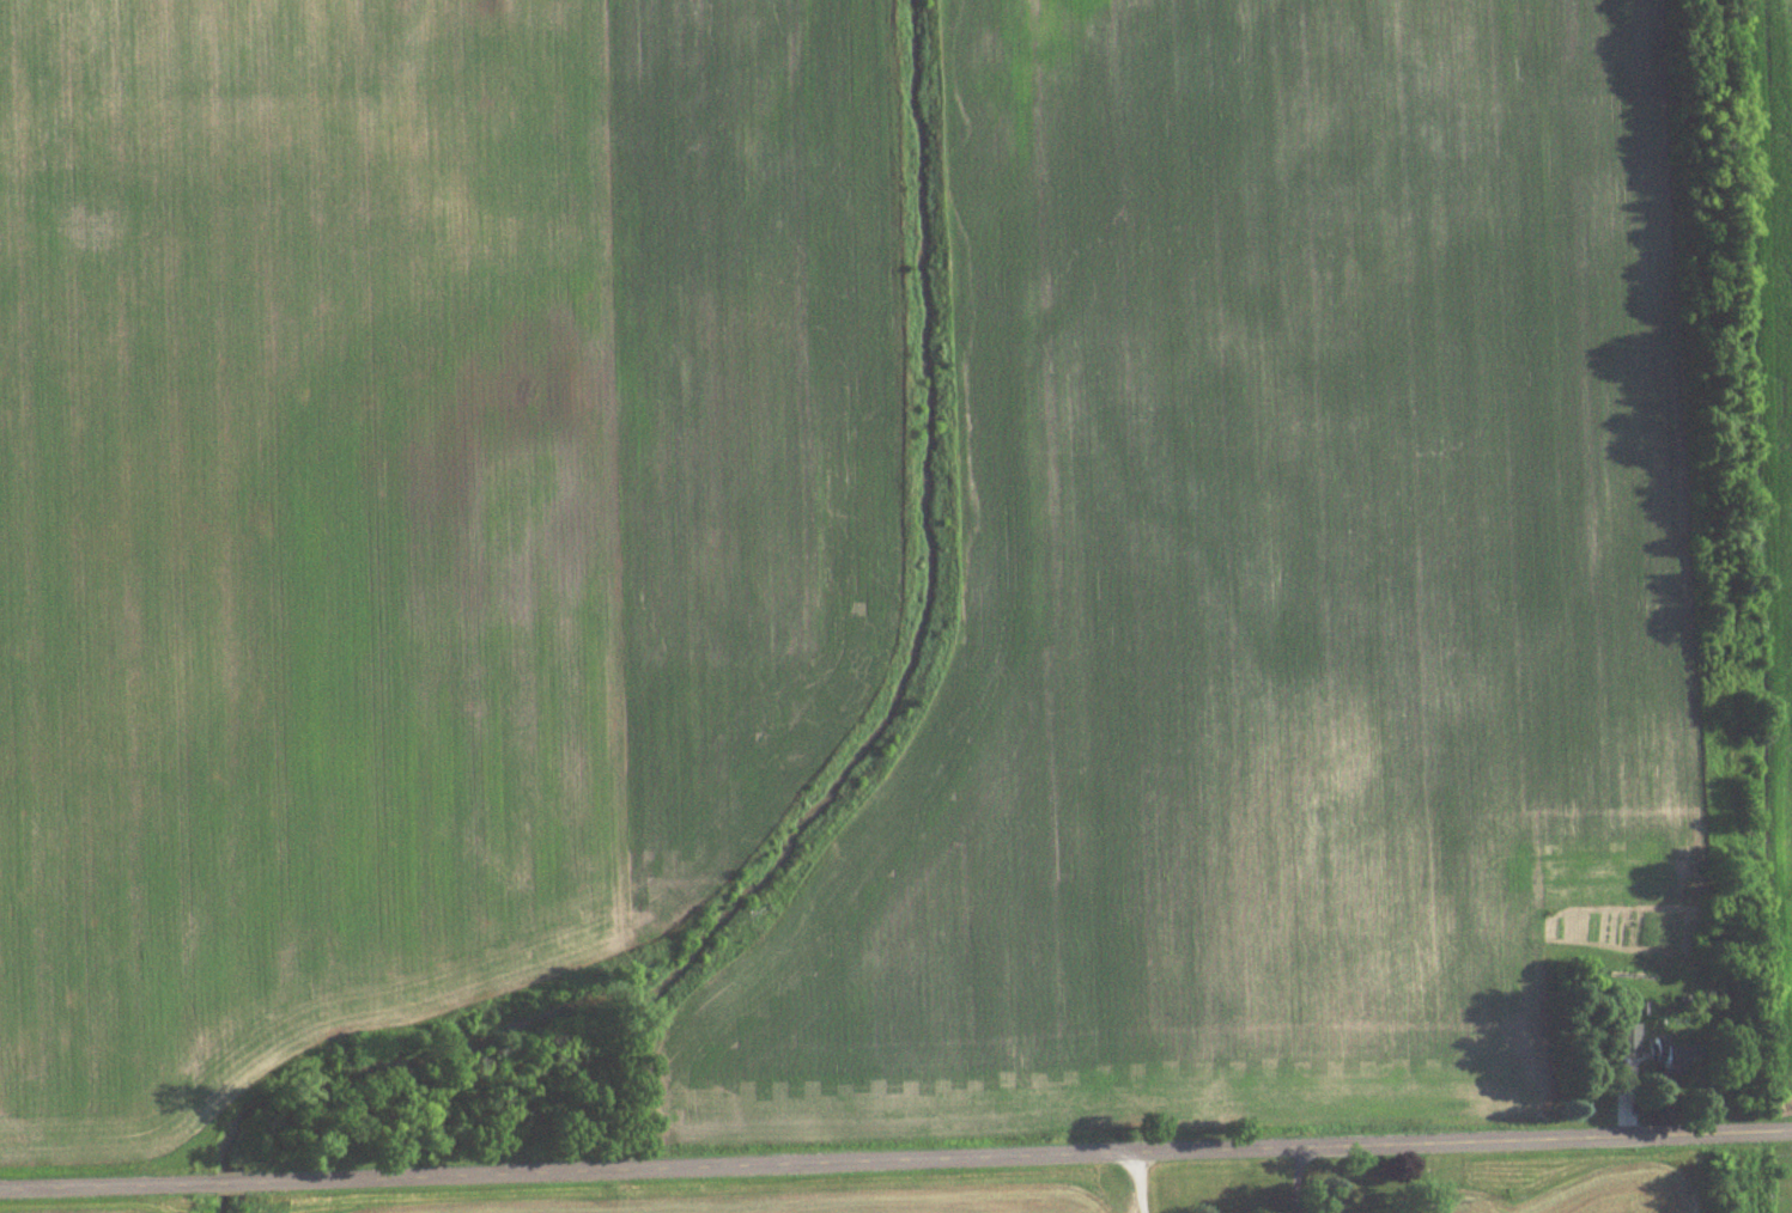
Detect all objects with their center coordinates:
building: (1671, 1052)
road: (1015, 1159)
park: (1778, 1176)
road: (221, 1185)
road: (102, 1188)

